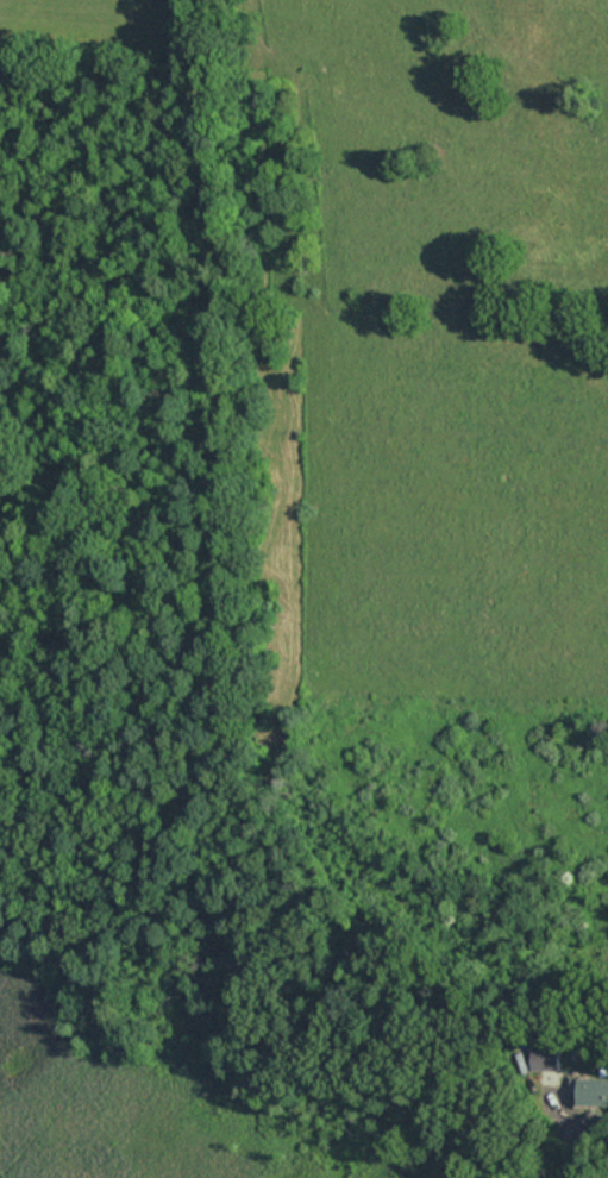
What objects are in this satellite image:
building: (544, 1059)
building: (590, 1090)
road: (588, 1116)

